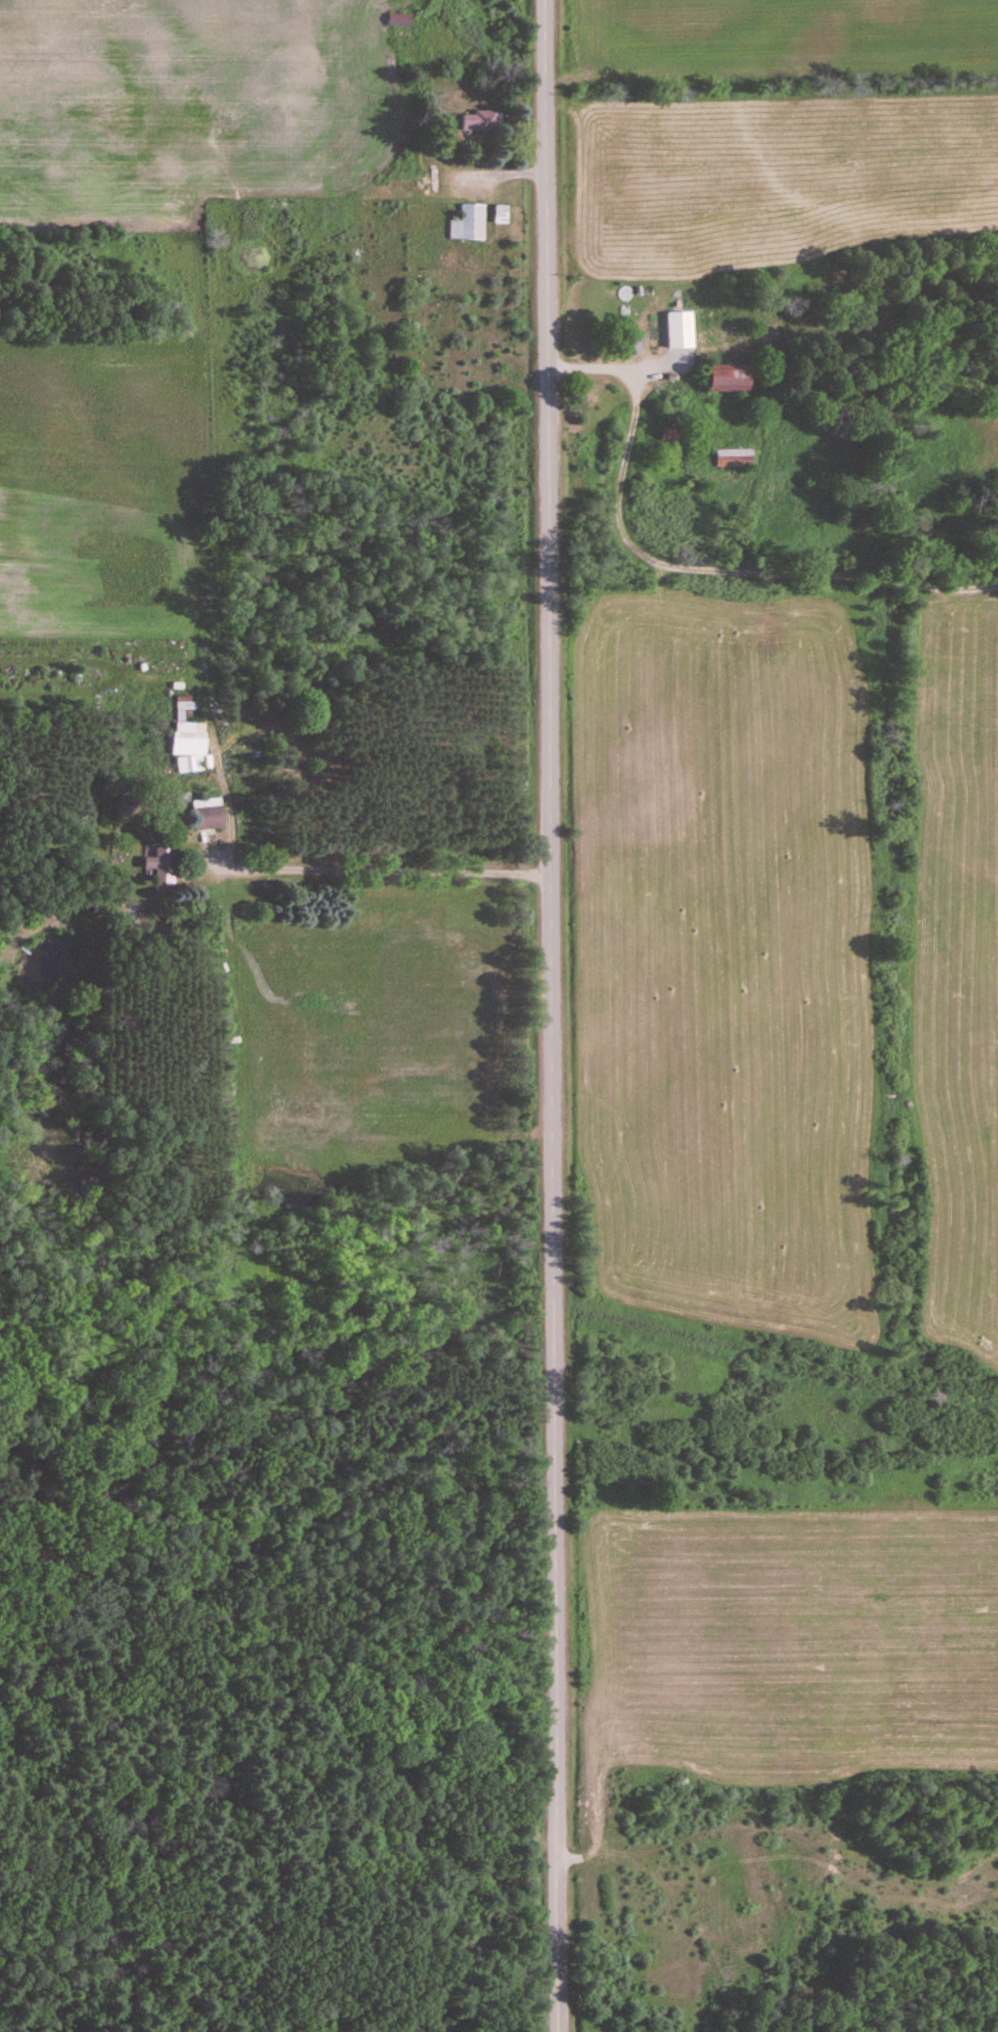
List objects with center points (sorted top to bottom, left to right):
building: (397, 21)
road: (79, 32)
building: (478, 120)
building: (500, 213)
building: (467, 223)
building: (677, 336)
building: (726, 377)
building: (667, 434)
building: (733, 458)
road: (680, 566)
building: (188, 751)
building: (207, 814)
building: (161, 865)
road: (549, 1016)

